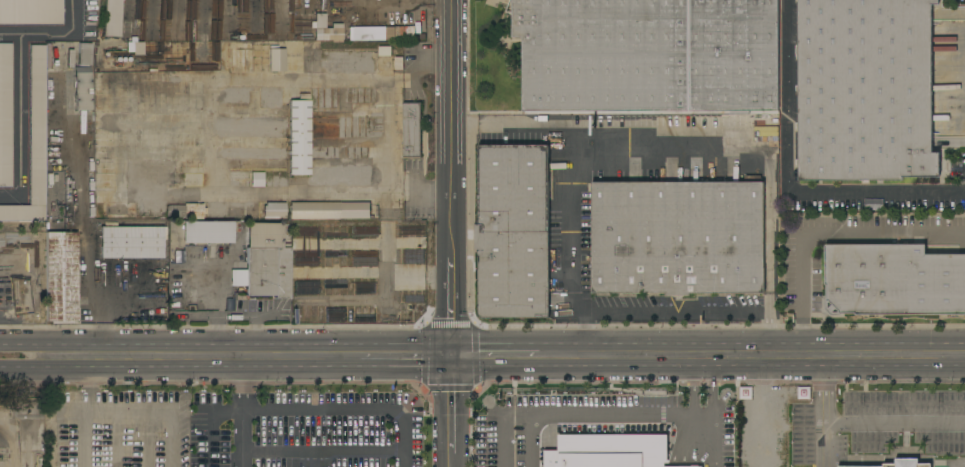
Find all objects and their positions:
road: (413, 2)
building: (31, 12)
building: (111, 18)
building: (325, 30)
building: (407, 31)
building: (372, 33)
building: (385, 51)
building: (648, 55)
building: (77, 57)
building: (277, 61)
building: (82, 89)
building: (865, 90)
building: (5, 116)
road: (451, 120)
building: (374, 126)
road: (389, 128)
building: (412, 130)
building: (299, 136)
road: (611, 142)
building: (34, 143)
building: (58, 151)
building: (273, 152)
road: (788, 185)
building: (244, 209)
building: (273, 209)
building: (313, 210)
building: (119, 211)
building: (186, 211)
building: (513, 230)
building: (198, 235)
building: (678, 237)
road: (831, 238)
building: (131, 241)
road: (771, 254)
road: (573, 258)
building: (266, 262)
building: (61, 278)
building: (893, 281)
building: (4, 291)
road: (451, 292)
building: (5, 298)
road: (234, 316)
traffic signals: (451, 344)
road: (495, 344)
road: (752, 344)
road: (225, 346)
road: (451, 359)
road: (708, 374)
road: (122, 375)
road: (283, 375)
road: (386, 375)
traffic signals: (452, 375)
road: (88, 391)
road: (691, 395)
road: (712, 395)
road: (155, 409)
road: (304, 417)
road: (587, 418)
road: (819, 420)
road: (245, 421)
road: (452, 421)
road: (892, 423)
road: (86, 437)
road: (706, 440)
road: (21, 447)
building: (608, 451)
road: (322, 453)
road: (893, 460)
building: (906, 463)

